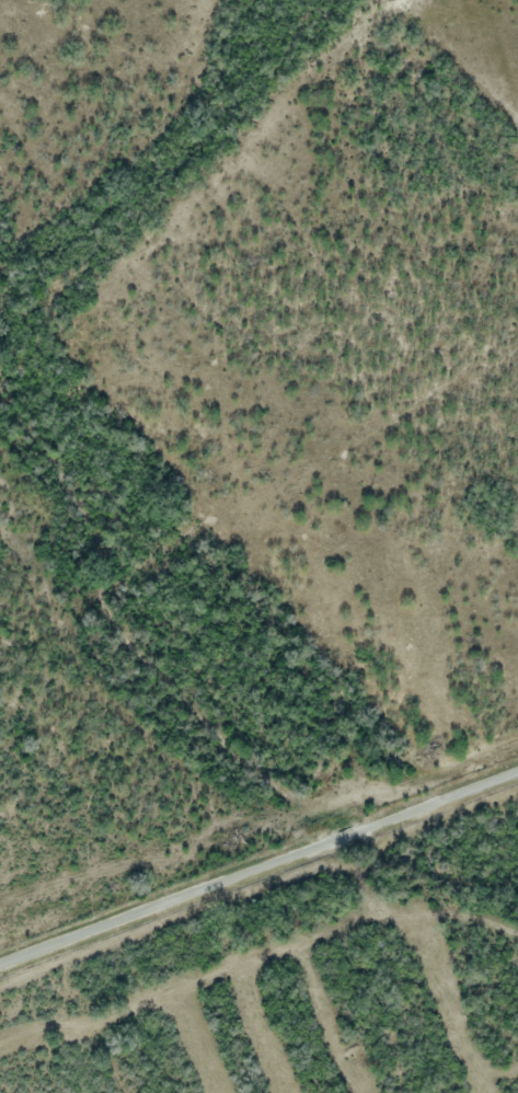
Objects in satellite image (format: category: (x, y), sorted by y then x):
road: (258, 873)

